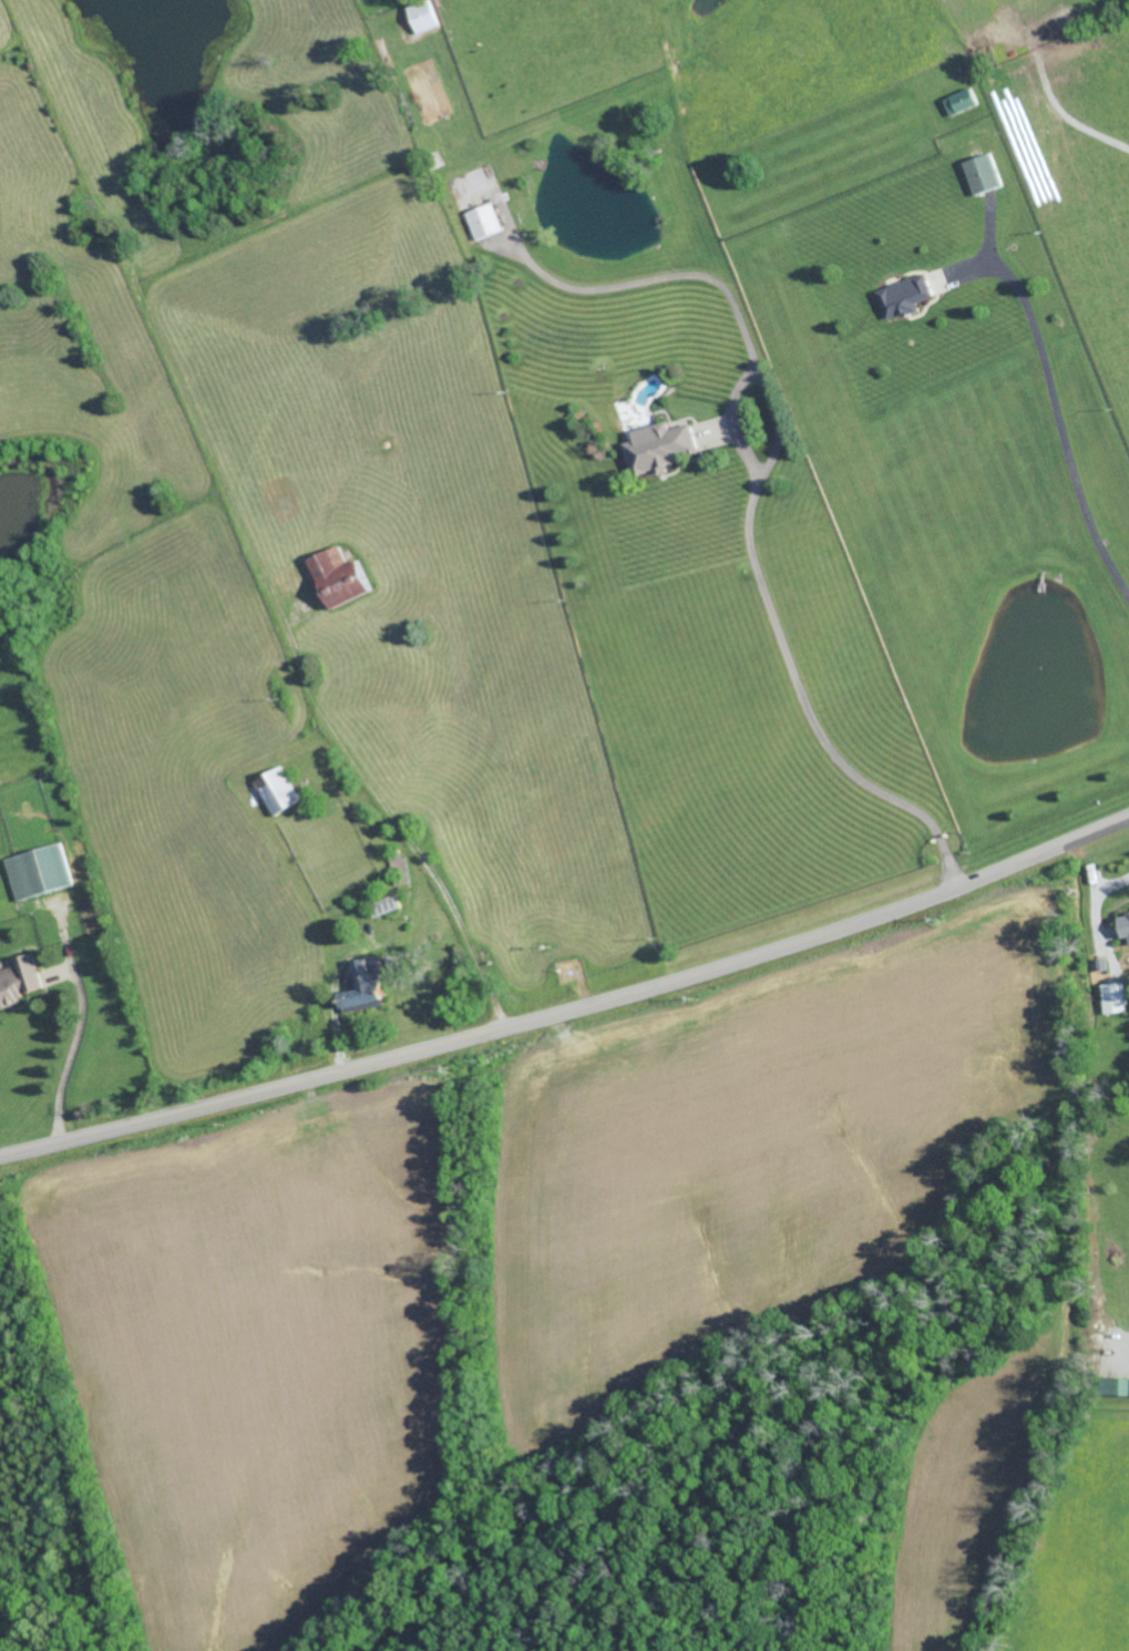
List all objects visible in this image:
building: (422, 16)
building: (959, 101)
road: (1113, 141)
building: (982, 173)
building: (484, 221)
building: (904, 296)
road: (1060, 414)
building: (659, 447)
building: (336, 576)
road: (800, 688)
building: (278, 790)
road: (400, 823)
building: (38, 871)
road: (1097, 910)
building: (1123, 925)
building: (19, 980)
building: (363, 987)
building: (1113, 997)
road: (572, 1009)
road: (74, 1043)
road: (1128, 1363)
building: (1113, 1386)

